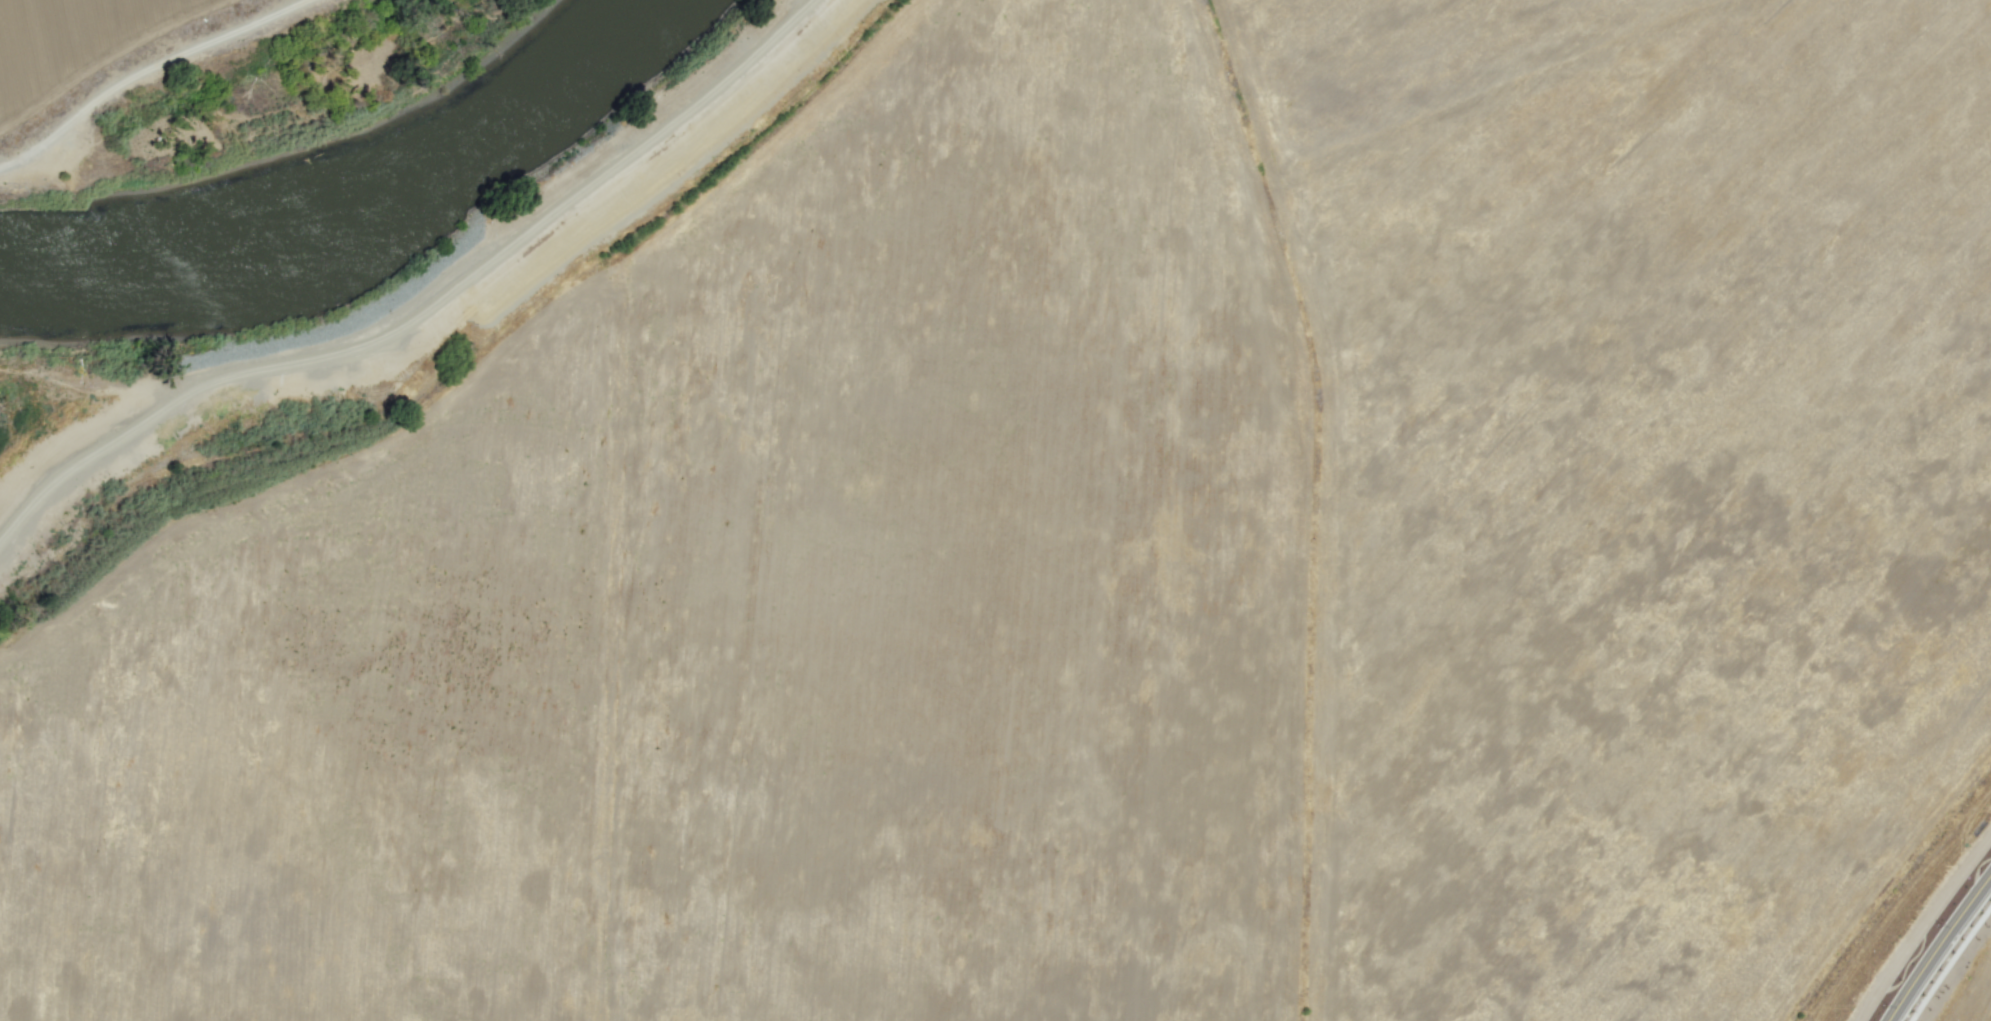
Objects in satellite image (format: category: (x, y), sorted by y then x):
road: (135, 67)
river: (359, 215)
road: (432, 313)
crop: (1092, 554)
road: (1943, 954)

